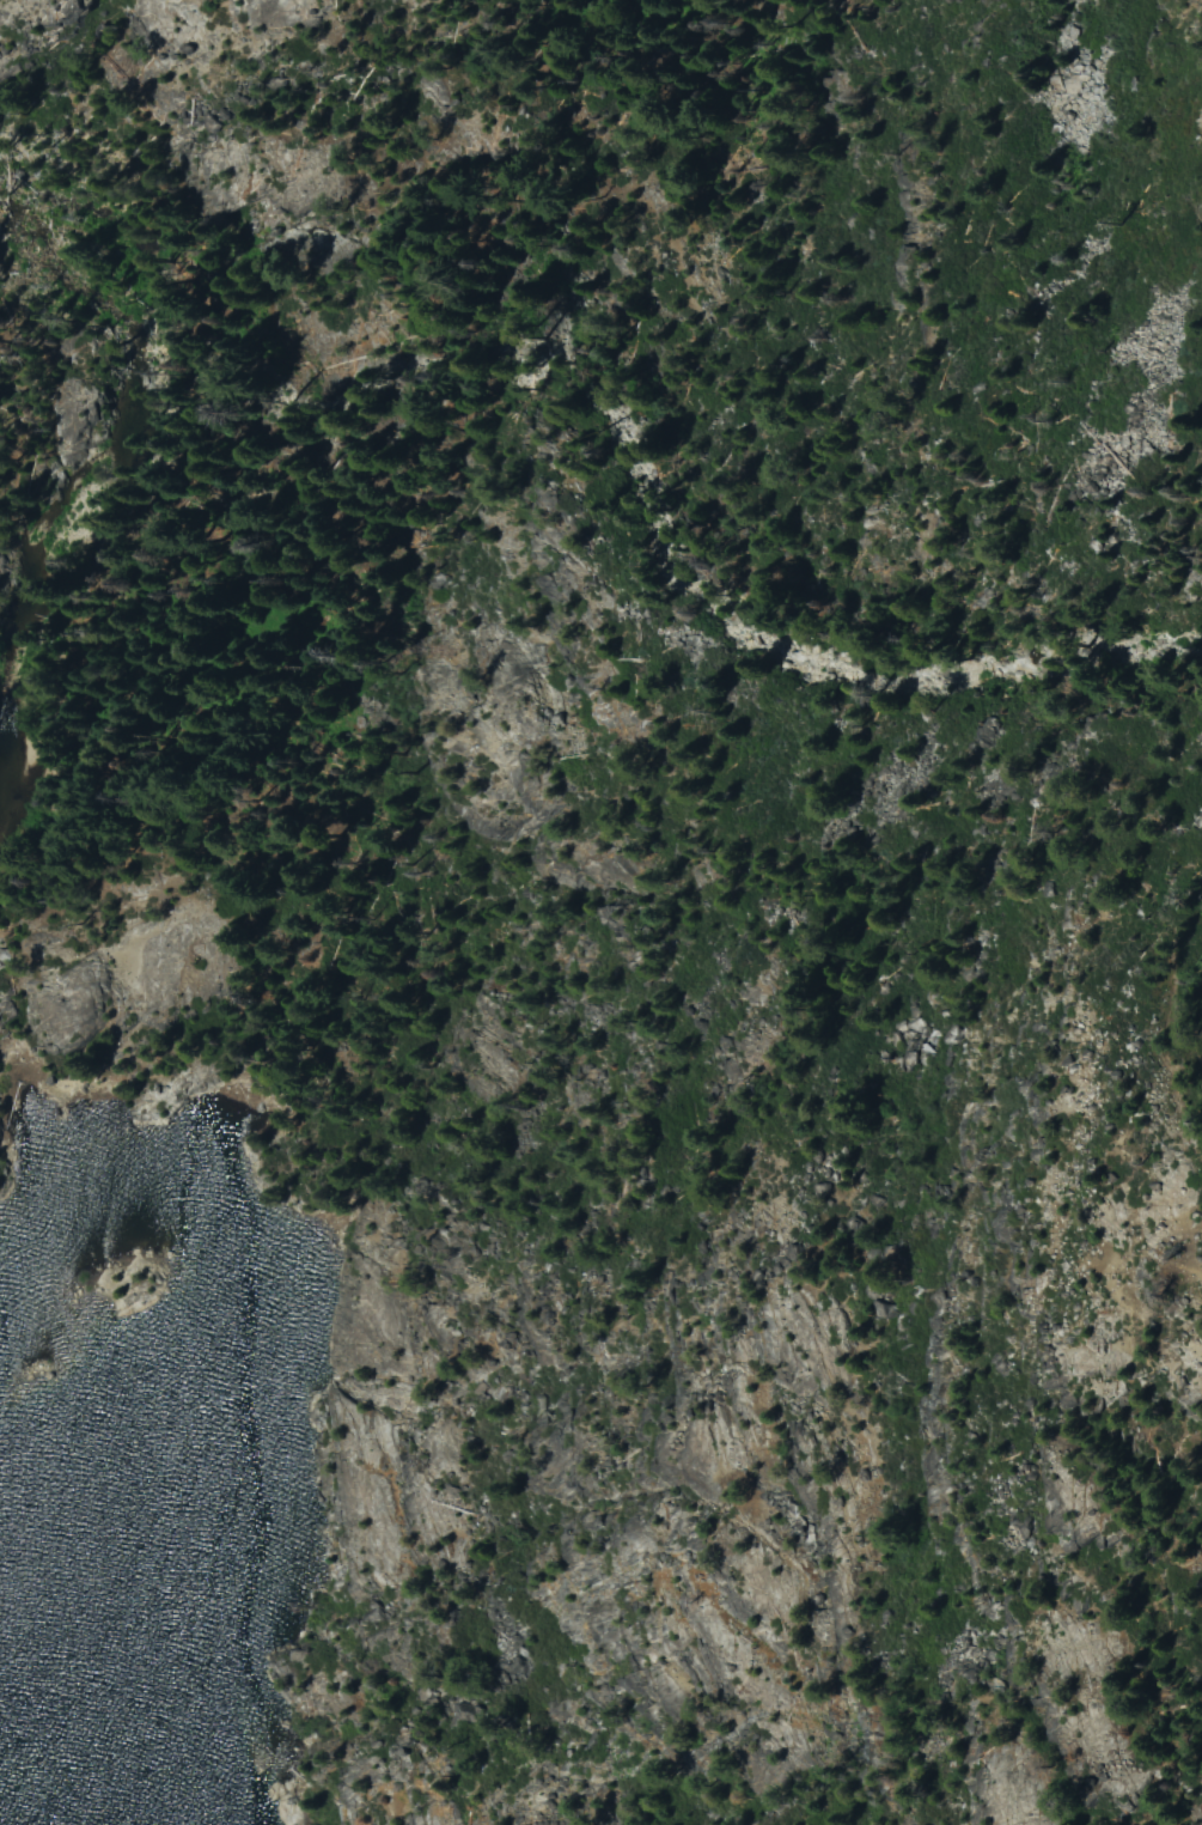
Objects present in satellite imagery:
river: (116, 451)

